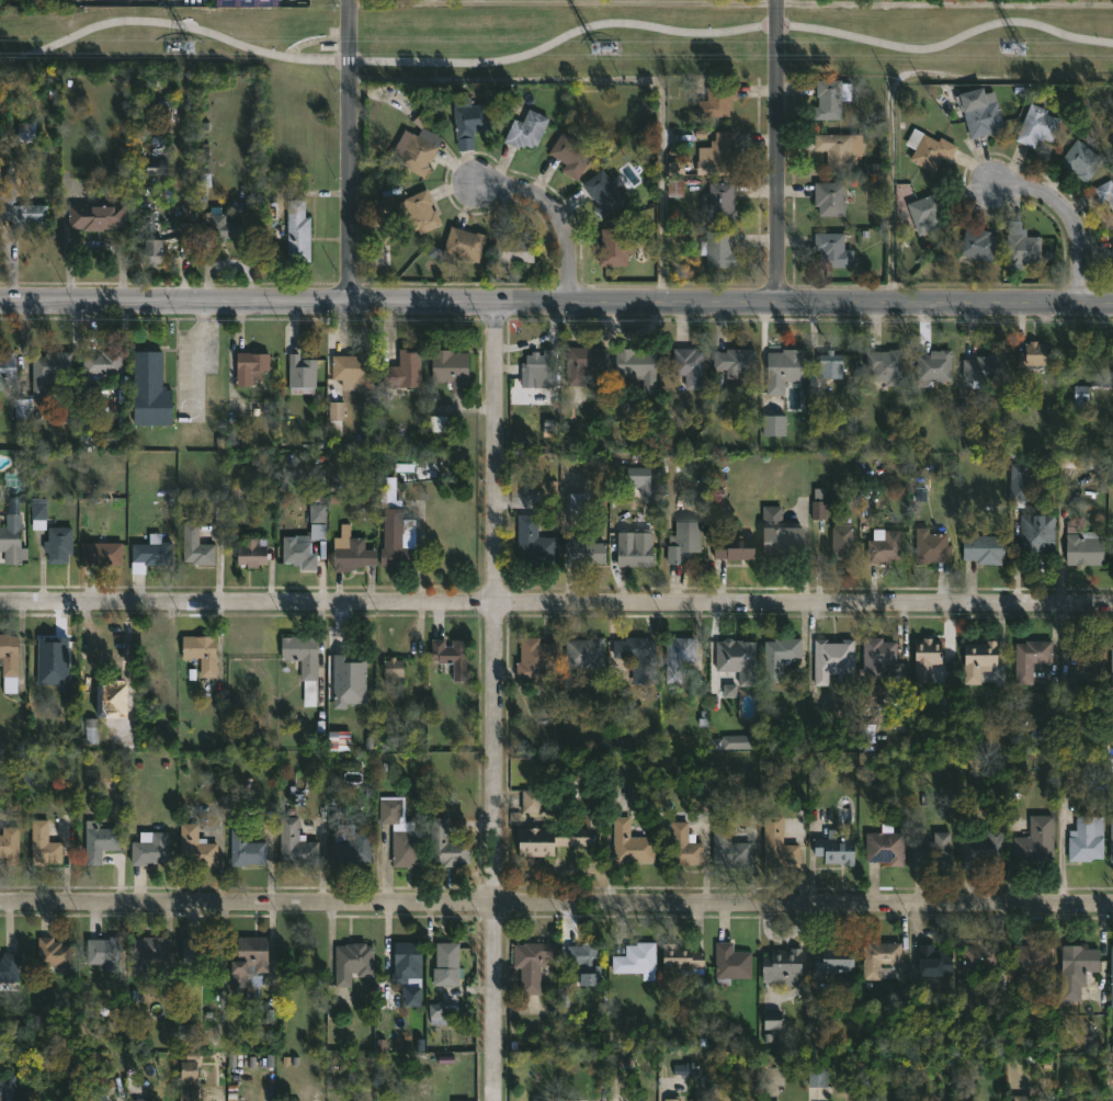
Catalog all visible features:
road: (563, 1)
road: (555, 38)
power tower: (1014, 46)
power tower: (179, 50)
power tower: (600, 50)
building: (719, 99)
building: (829, 99)
building: (978, 113)
building: (468, 120)
building: (1035, 126)
building: (524, 129)
building: (25, 132)
road: (347, 149)
building: (928, 149)
road: (775, 150)
building: (834, 150)
building: (720, 151)
building: (416, 155)
building: (569, 155)
building: (1080, 161)
building: (156, 167)
building: (871, 170)
building: (1104, 193)
building: (602, 194)
building: (828, 197)
building: (719, 201)
building: (20, 207)
road: (561, 211)
building: (420, 213)
road: (1071, 213)
building: (925, 215)
building: (93, 216)
building: (216, 225)
building: (182, 230)
building: (299, 230)
building: (977, 245)
building: (461, 246)
building: (510, 247)
building: (612, 247)
building: (719, 249)
building: (832, 249)
building: (1022, 249)
building: (154, 251)
building: (1111, 252)
road: (556, 299)
building: (1031, 354)
road: (197, 359)
building: (732, 362)
building: (102, 363)
building: (580, 363)
building: (540, 364)
building: (822, 365)
building: (686, 366)
building: (884, 366)
building: (248, 367)
building: (634, 367)
building: (932, 367)
building: (447, 368)
building: (981, 368)
building: (8, 370)
building: (355, 370)
building: (405, 370)
building: (782, 370)
building: (46, 371)
building: (296, 374)
building: (150, 390)
building: (1080, 397)
building: (336, 410)
building: (22, 412)
building: (439, 424)
building: (773, 425)
building: (1078, 461)
building: (638, 479)
building: (1018, 481)
building: (388, 493)
building: (237, 498)
building: (576, 507)
building: (817, 510)
building: (39, 513)
building: (317, 513)
building: (784, 531)
building: (1036, 533)
building: (840, 537)
building: (395, 541)
building: (681, 541)
building: (532, 543)
building: (1080, 543)
building: (59, 544)
building: (11, 545)
building: (884, 545)
building: (196, 546)
building: (731, 546)
building: (302, 547)
building: (635, 547)
building: (929, 547)
building: (981, 549)
building: (1111, 550)
building: (351, 552)
building: (581, 552)
building: (249, 553)
building: (100, 554)
building: (150, 554)
road: (556, 604)
building: (43, 652)
building: (202, 652)
building: (587, 652)
building: (635, 652)
building: (452, 656)
building: (680, 656)
building: (777, 657)
building: (924, 657)
building: (1088, 657)
building: (737, 659)
building: (976, 659)
building: (1029, 659)
building: (534, 660)
building: (875, 660)
building: (10, 661)
building: (300, 662)
building: (832, 662)
building: (1111, 667)
building: (395, 671)
building: (349, 673)
building: (1065, 683)
building: (729, 690)
building: (112, 695)
road: (497, 700)
building: (90, 730)
building: (338, 740)
building: (730, 742)
building: (529, 802)
building: (399, 833)
building: (1111, 837)
building: (552, 839)
building: (1086, 839)
building: (1034, 840)
building: (100, 842)
building: (296, 843)
building: (776, 843)
building: (45, 844)
building: (628, 844)
building: (10, 845)
building: (193, 845)
building: (447, 845)
building: (349, 847)
building: (681, 847)
building: (728, 847)
building: (883, 847)
building: (151, 848)
building: (246, 848)
building: (980, 849)
building: (831, 850)
building: (931, 850)
road: (556, 901)
building: (101, 950)
building: (145, 952)
building: (202, 952)
building: (52, 953)
building: (252, 955)
building: (831, 956)
building: (586, 957)
building: (681, 957)
building: (448, 958)
building: (635, 958)
building: (1033, 958)
building: (877, 960)
building: (933, 960)
building: (534, 963)
building: (729, 963)
building: (352, 965)
building: (781, 965)
building: (8, 966)
building: (973, 966)
building: (1075, 969)
building: (409, 971)
building: (1111, 976)
building: (436, 1013)
building: (770, 1018)
building: (188, 1070)
building: (817, 1077)
building: (7, 1087)
building: (91, 1092)
building: (186, 1094)
building: (1021, 1098)
building: (670, 1099)
building: (138, 1100)
building: (463, 1100)

